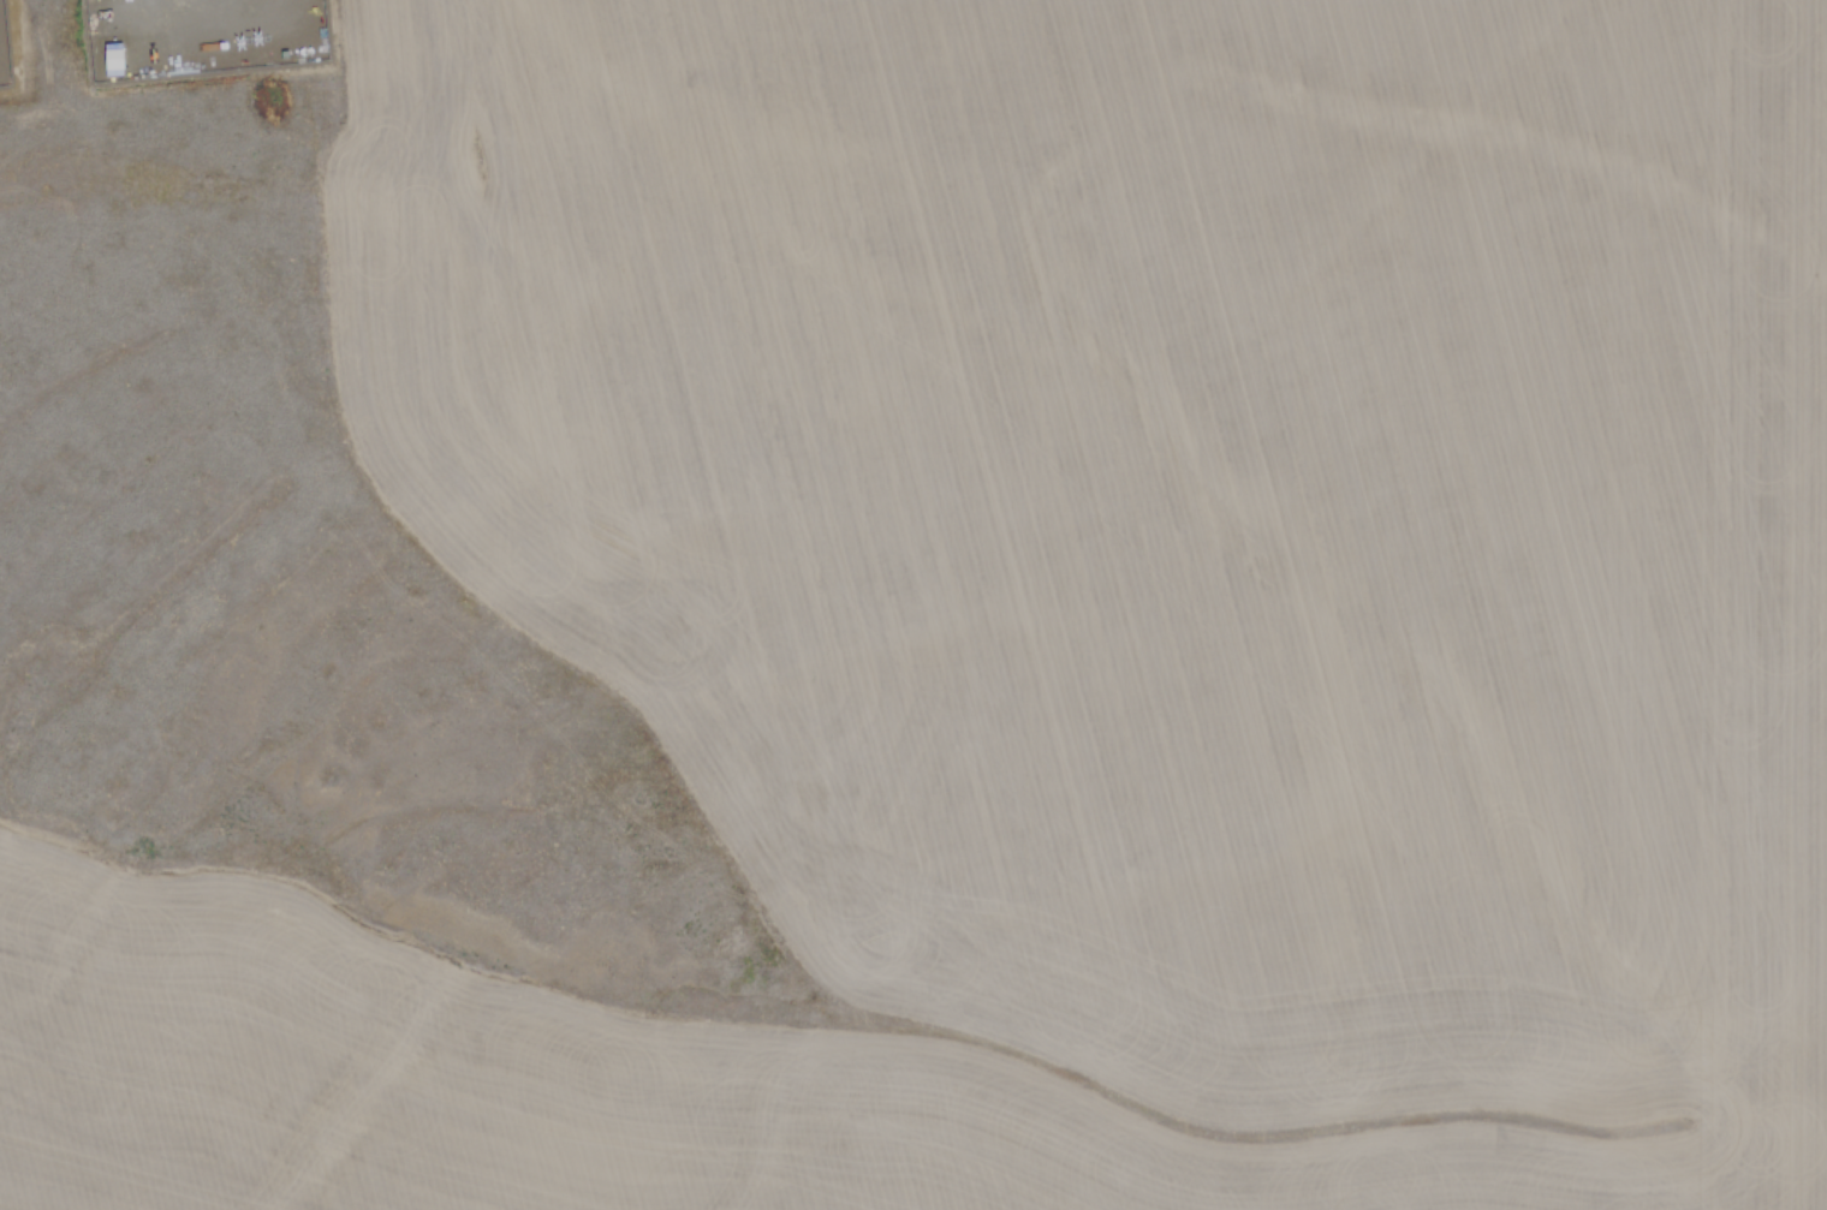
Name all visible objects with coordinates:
power substation: (2, 55)
building: (113, 56)

